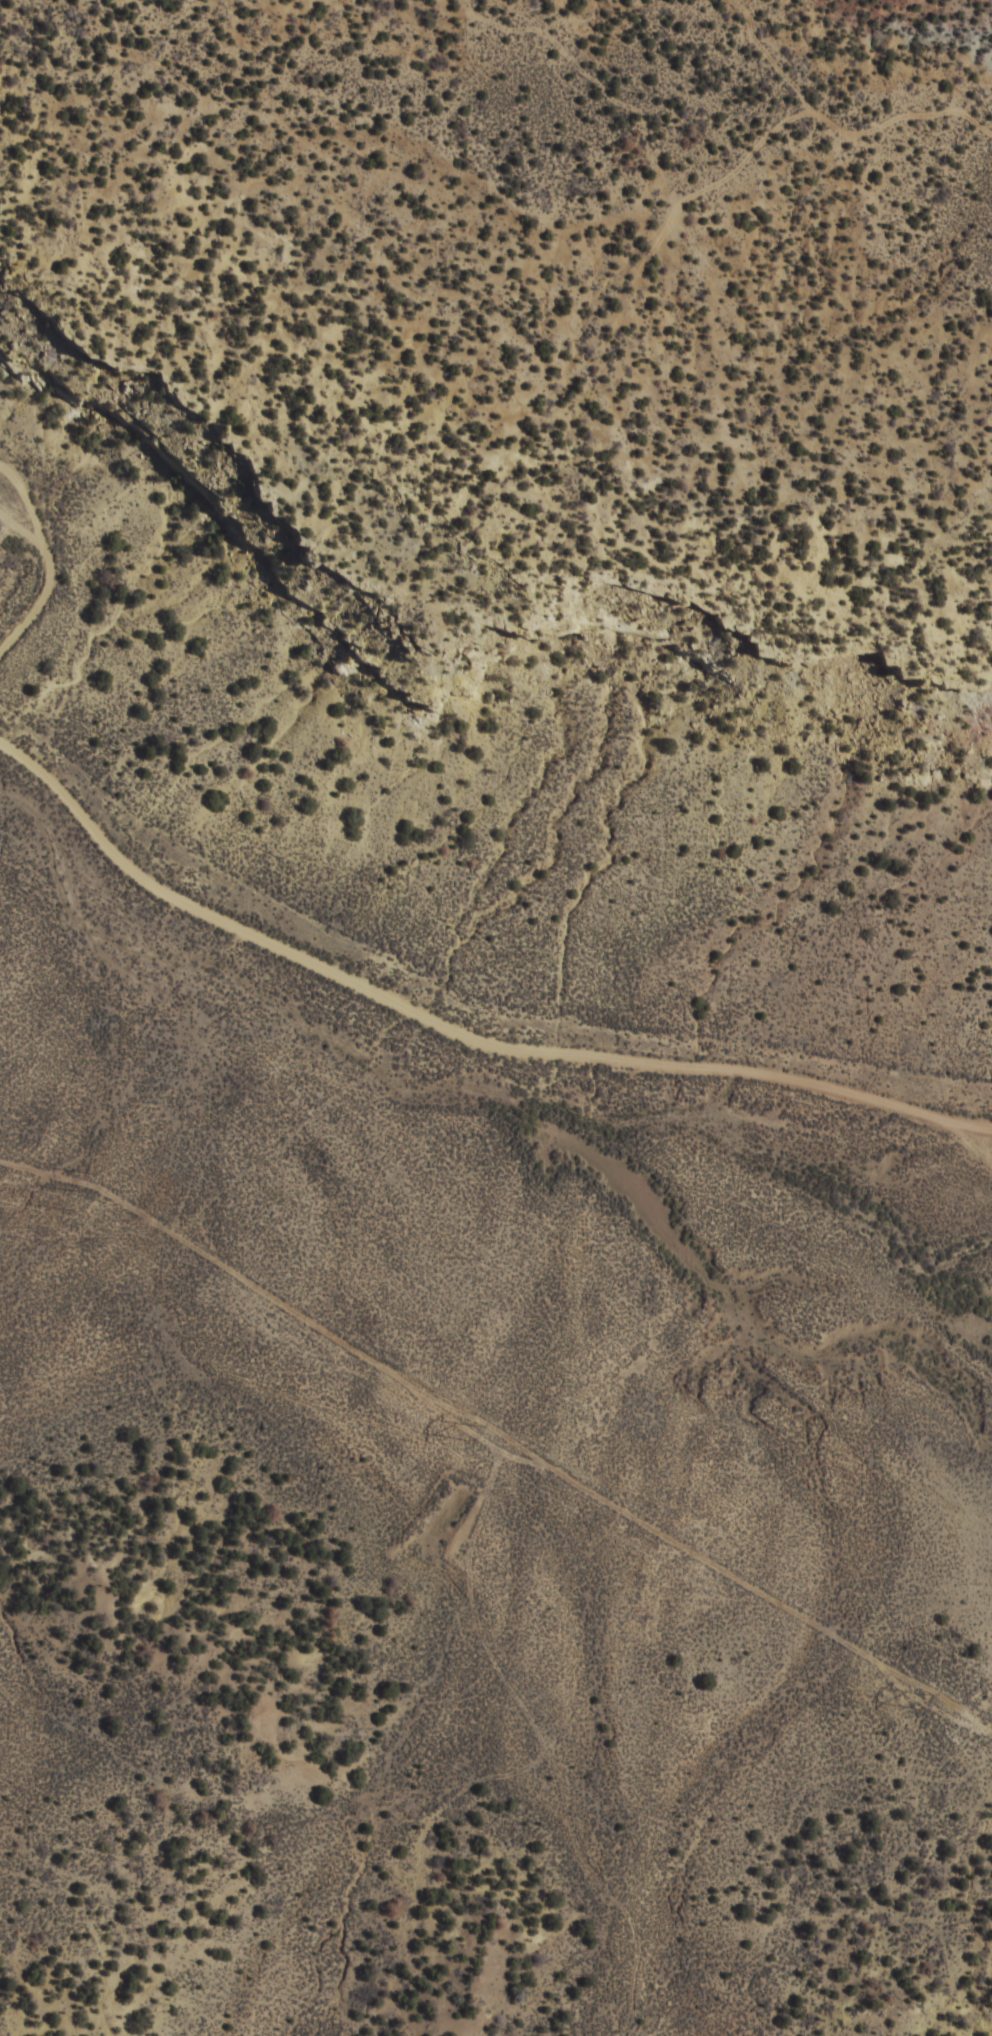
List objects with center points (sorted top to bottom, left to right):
road: (443, 1007)
river: (510, 1123)
power tower: (80, 1193)
power tower: (474, 1434)
power tower: (926, 1703)

